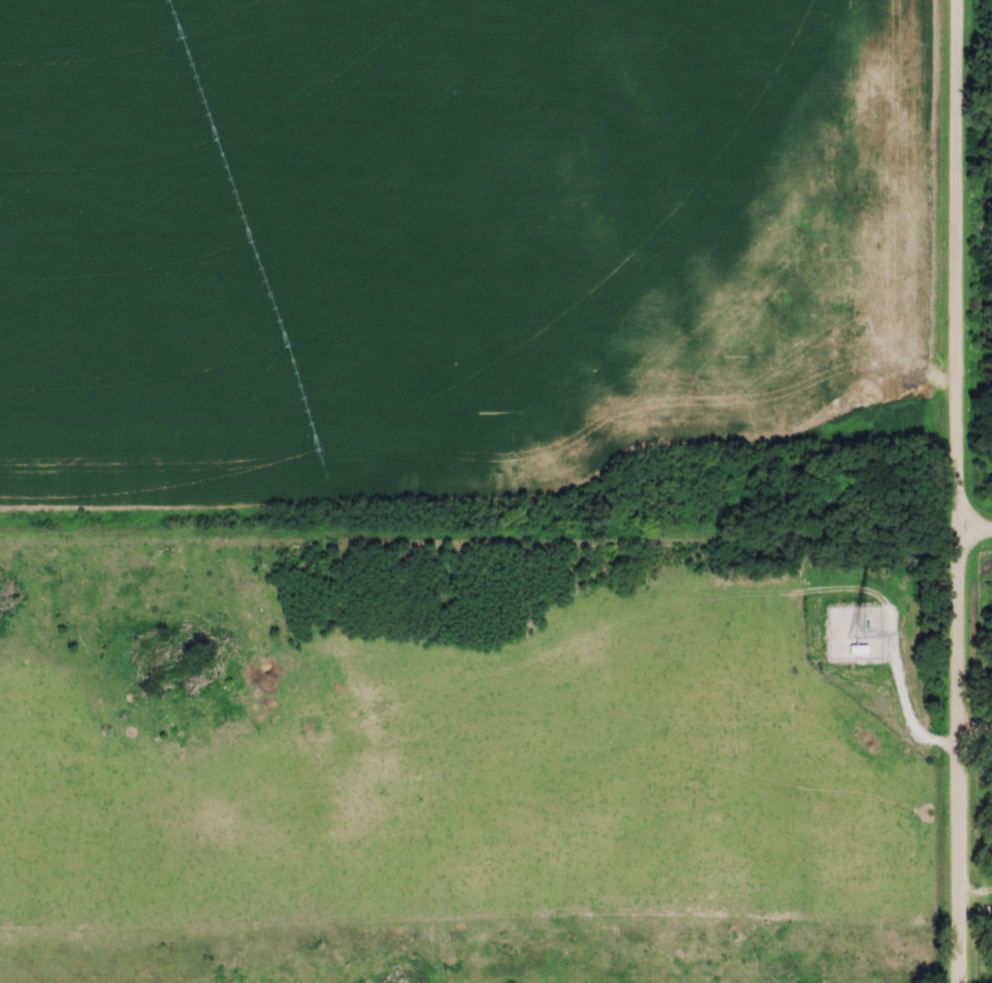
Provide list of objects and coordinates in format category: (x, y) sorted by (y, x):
road: (958, 491)
road: (479, 532)
road: (975, 535)
road: (976, 736)

